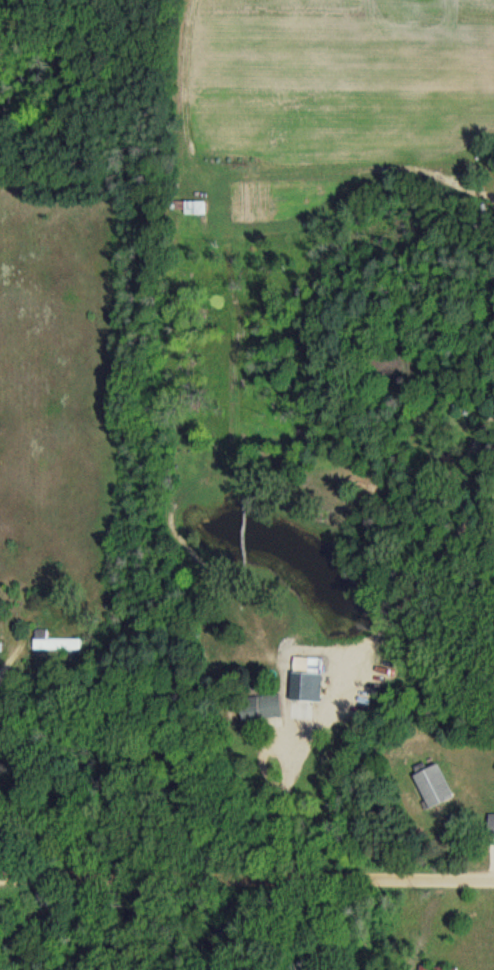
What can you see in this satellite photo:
building: (55, 641)
road: (7, 662)
building: (305, 686)
building: (262, 707)
building: (434, 786)
building: (491, 826)
road: (247, 879)

